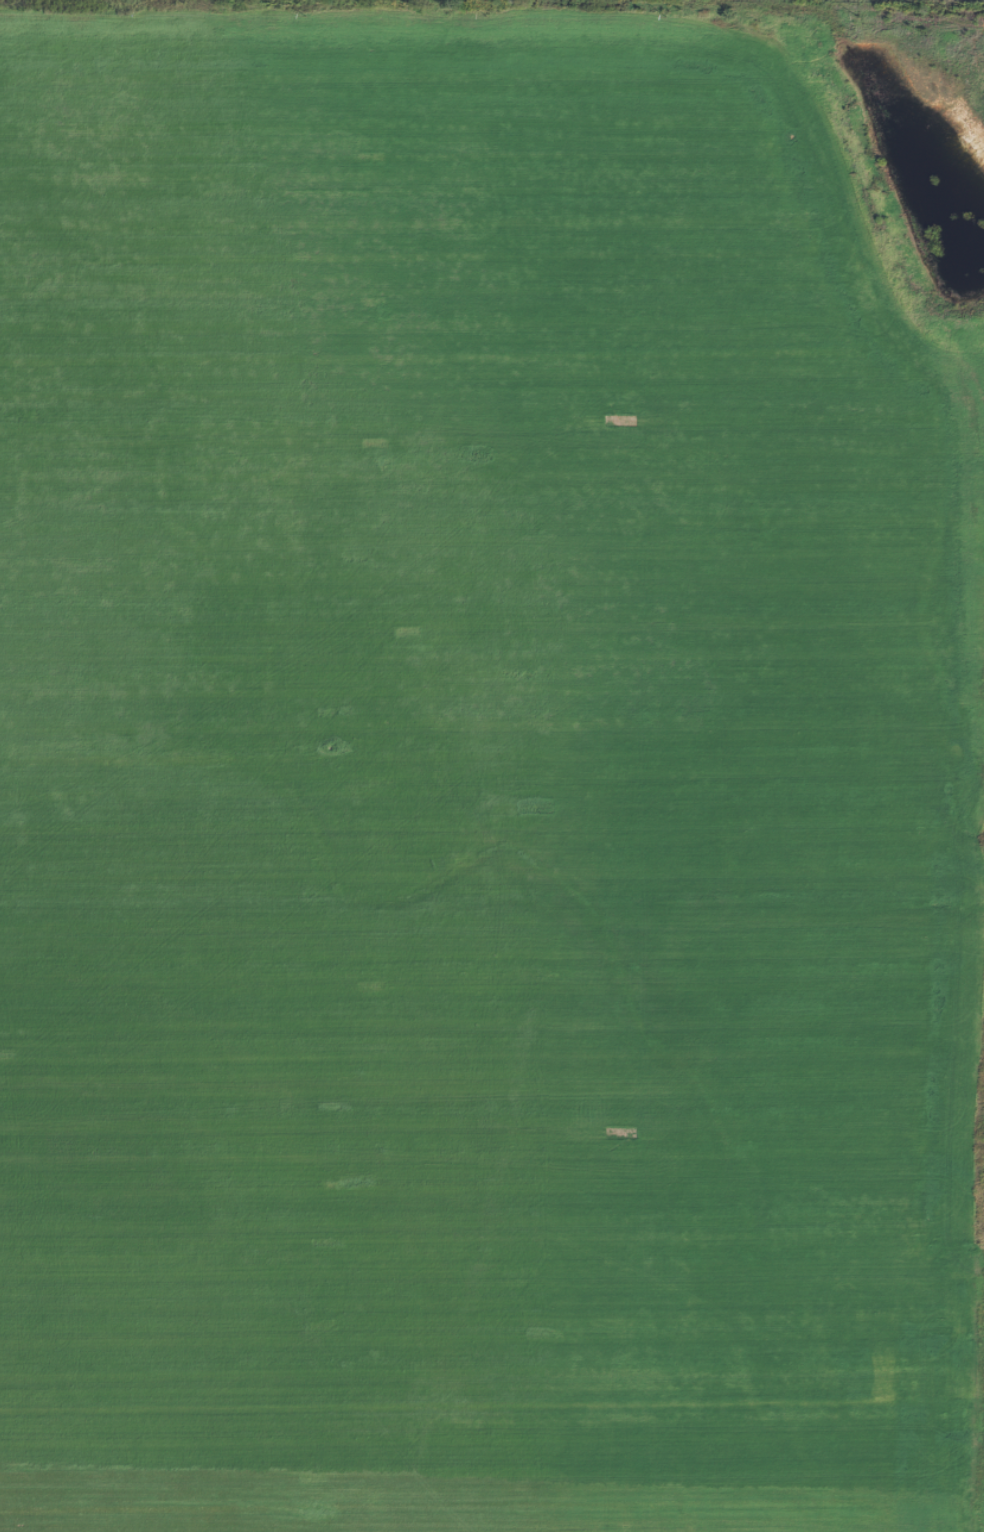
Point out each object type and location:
road: (492, 8)

